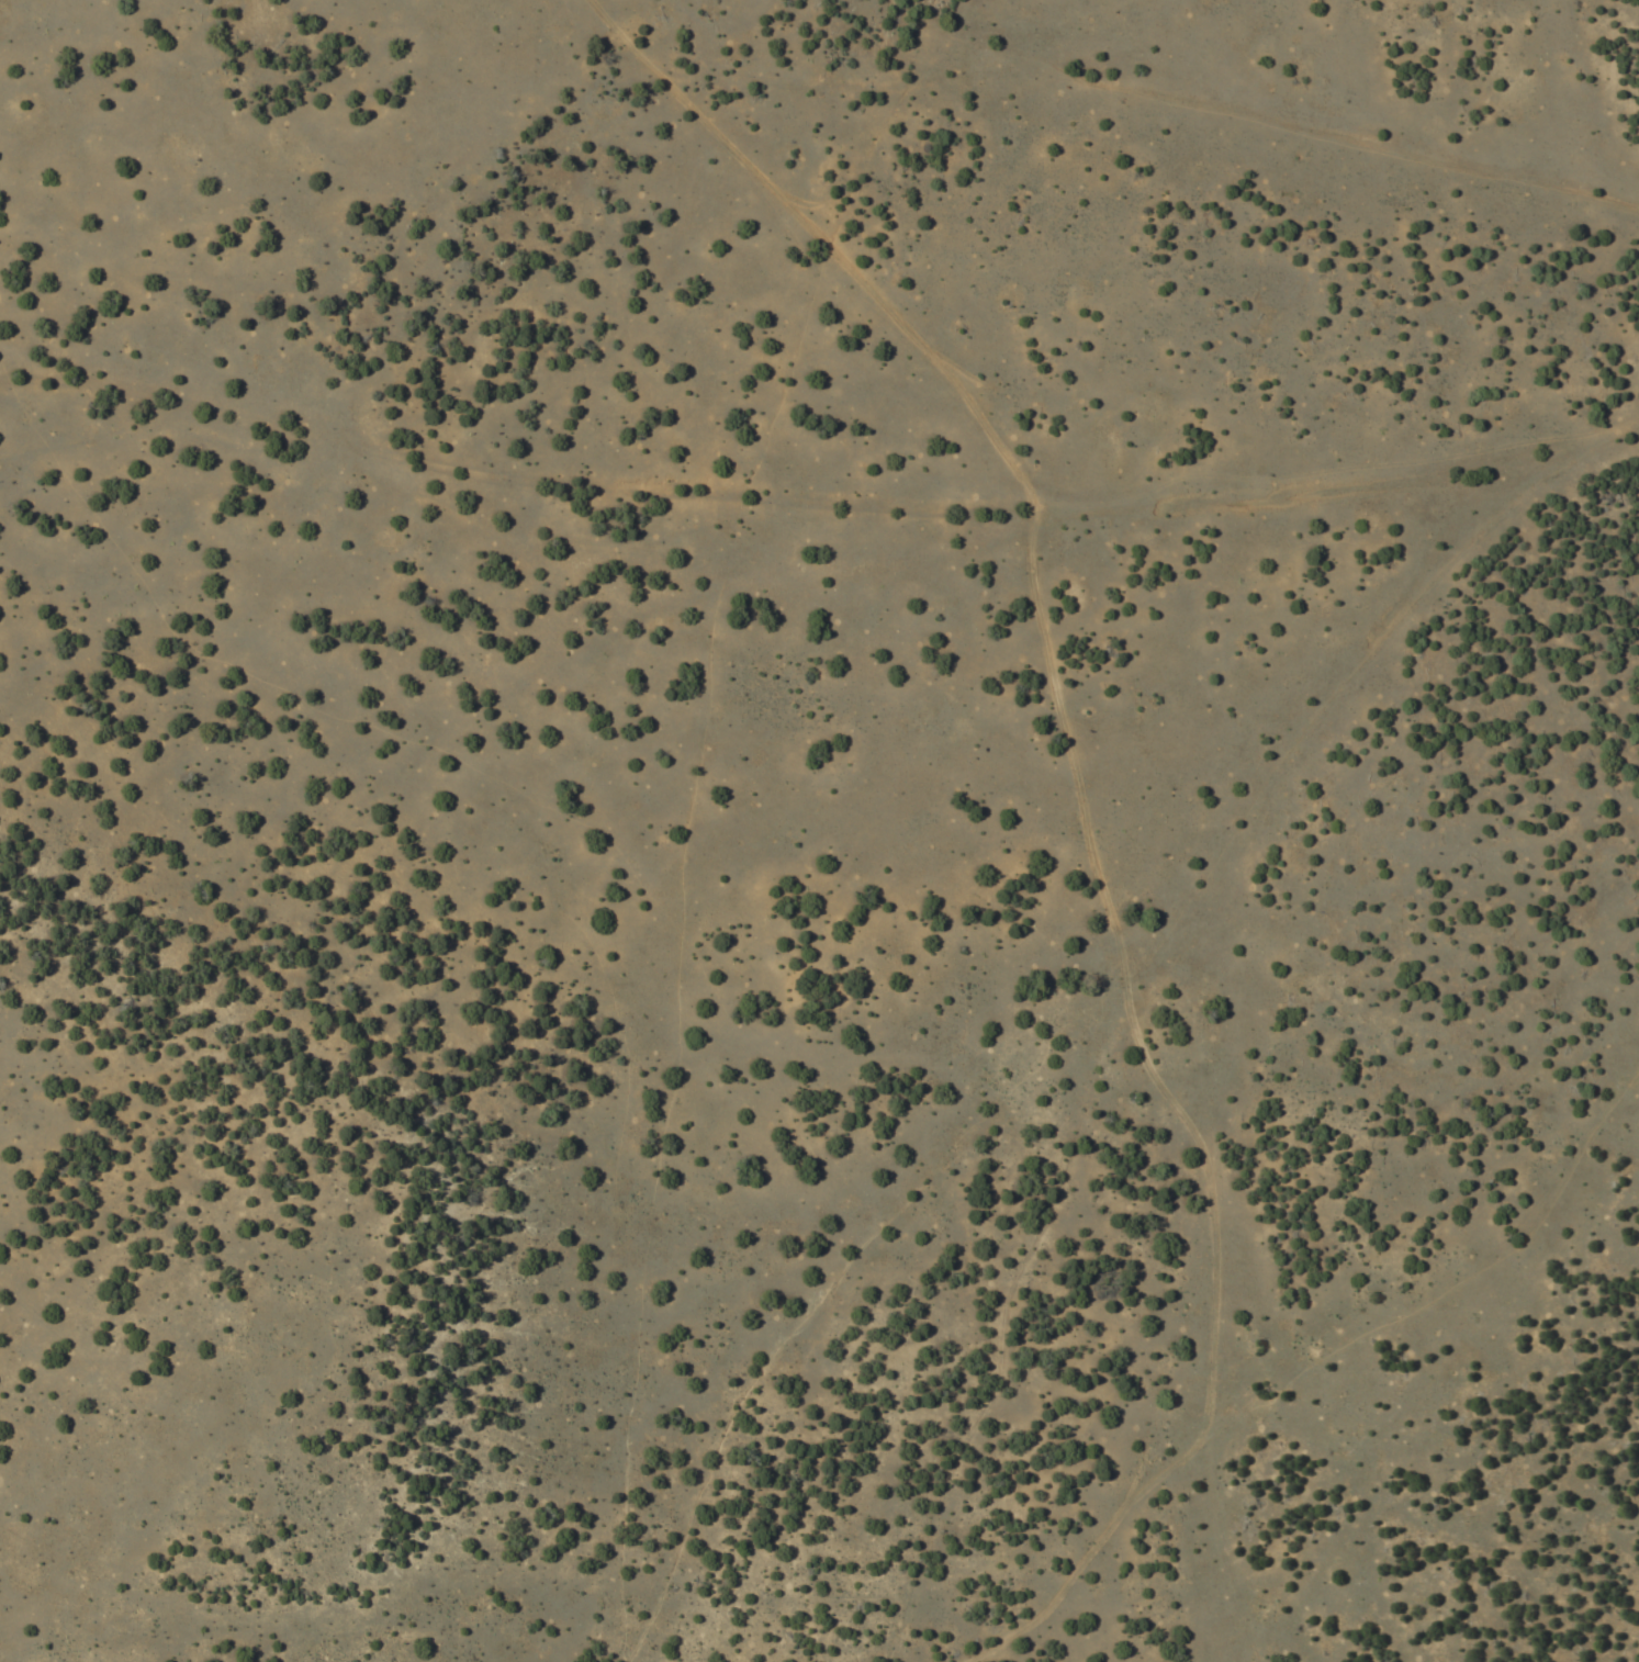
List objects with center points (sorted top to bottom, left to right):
road: (1118, 801)

